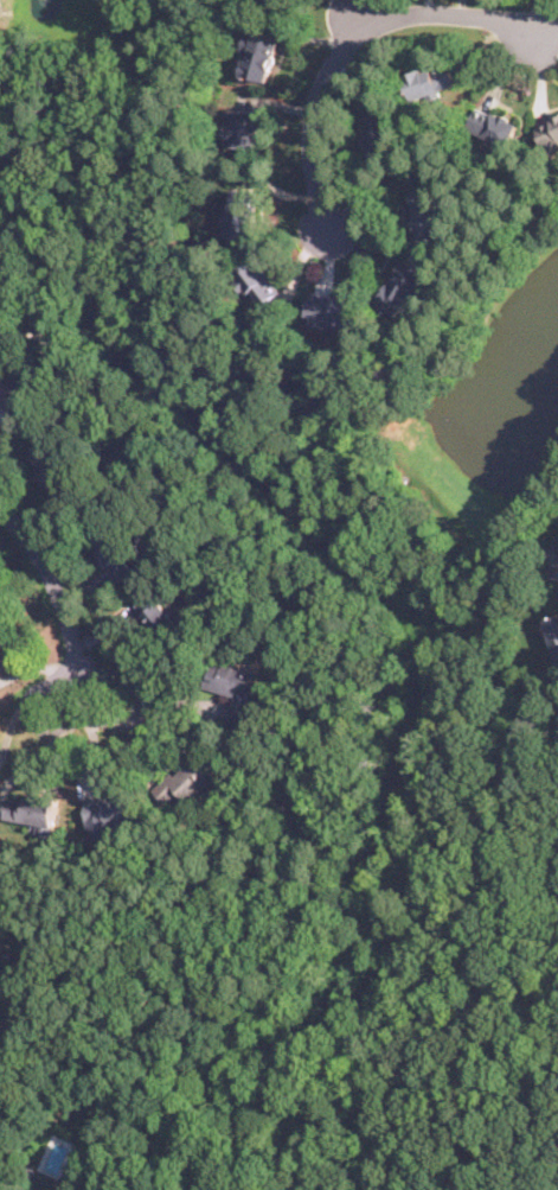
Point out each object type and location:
building: (277, 0)
road: (355, 33)
building: (261, 55)
building: (431, 78)
building: (492, 125)
building: (243, 126)
building: (549, 129)
building: (379, 131)
building: (428, 211)
building: (244, 212)
building: (261, 280)
building: (400, 286)
building: (331, 311)
building: (12, 395)
dam: (456, 460)
building: (57, 478)
building: (116, 555)
building: (557, 567)
road: (51, 580)
building: (155, 611)
building: (554, 632)
building: (5, 651)
building: (233, 688)
road: (85, 718)
building: (187, 779)
building: (33, 808)
building: (113, 809)
road: (258, 872)
building: (1, 1167)
building: (44, 1178)

